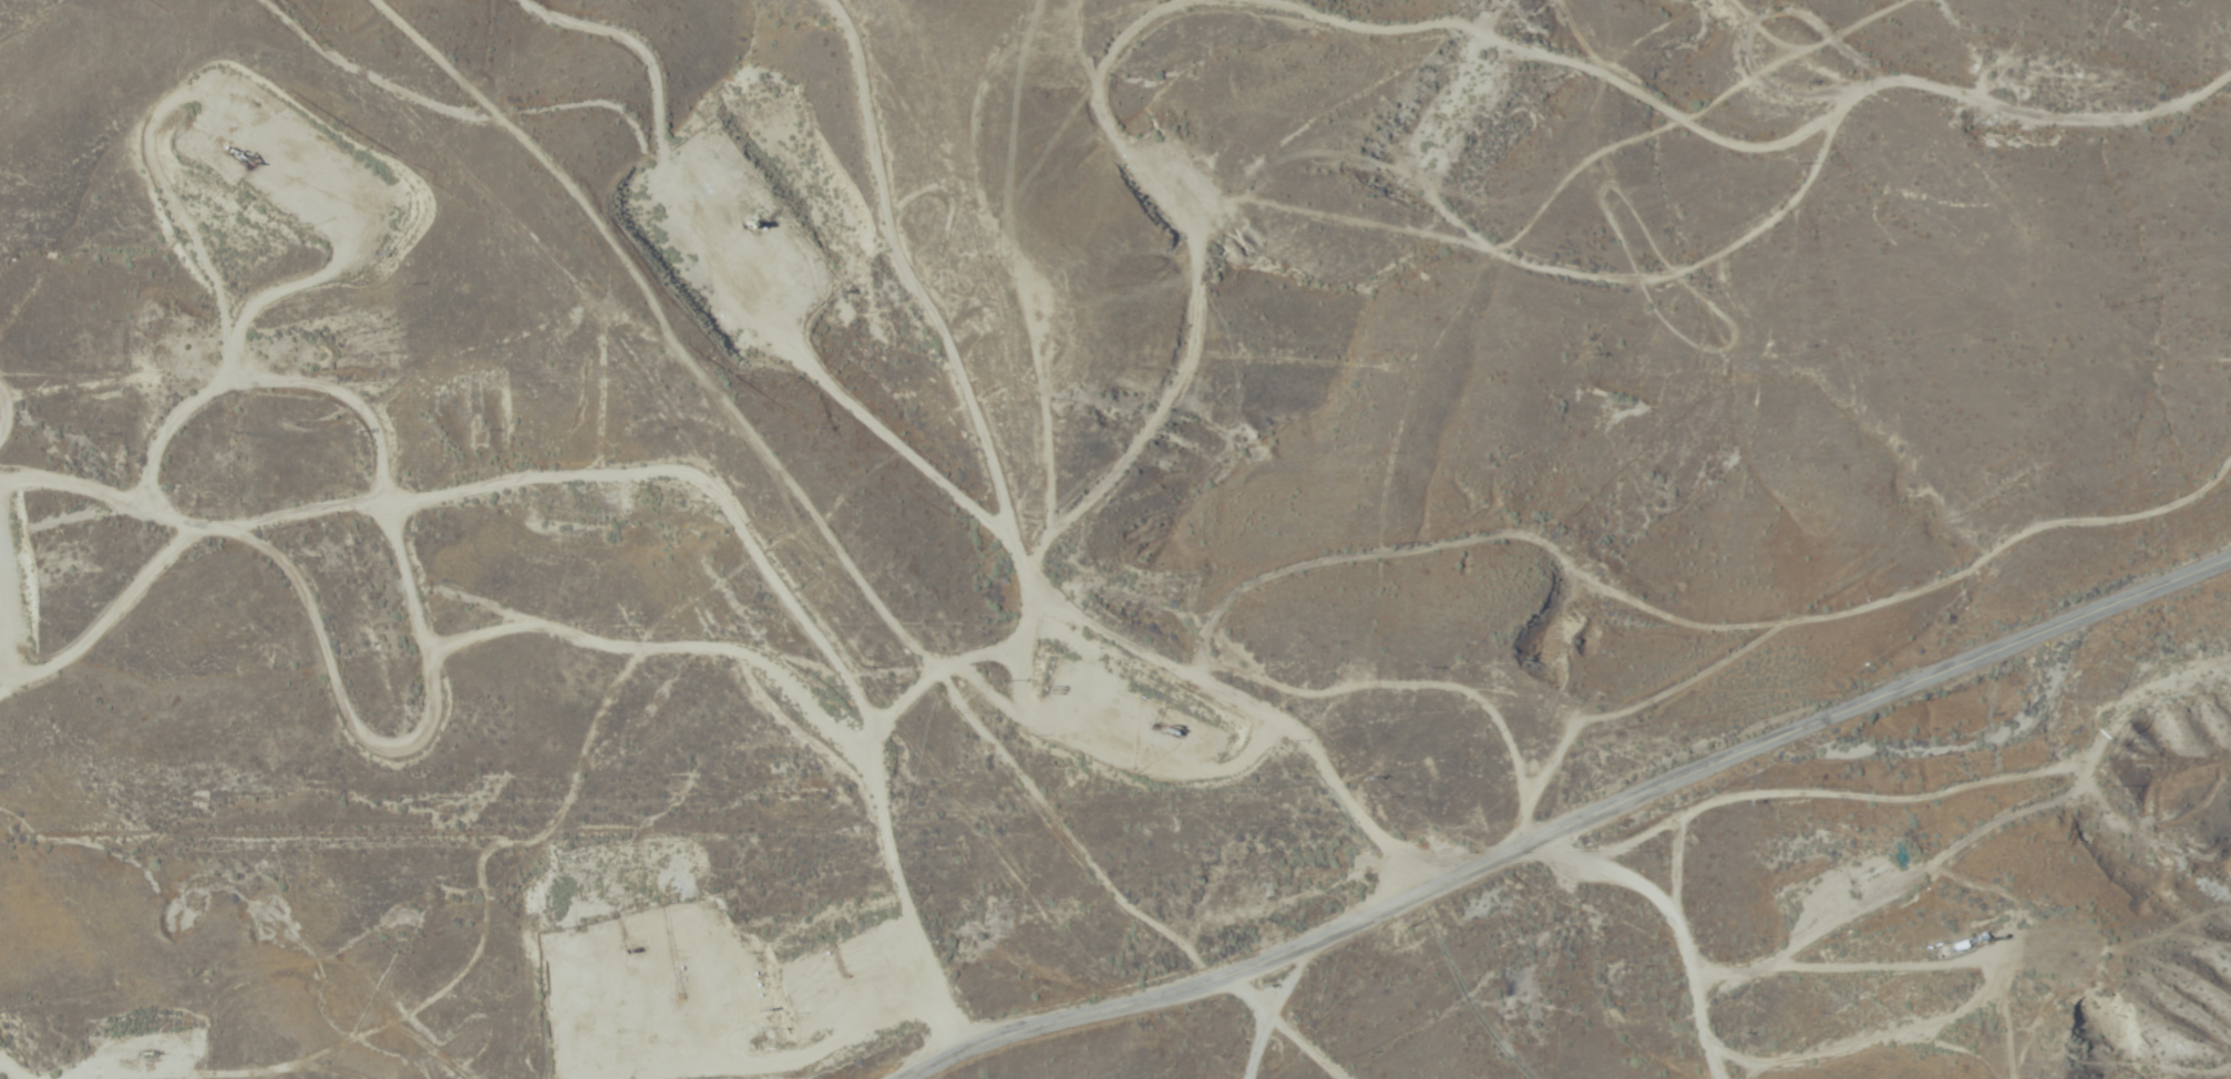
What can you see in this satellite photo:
road: (1250, 399)
road: (2219, 541)
road: (1098, 643)
road: (489, 691)
road: (1068, 693)
road: (1571, 826)

